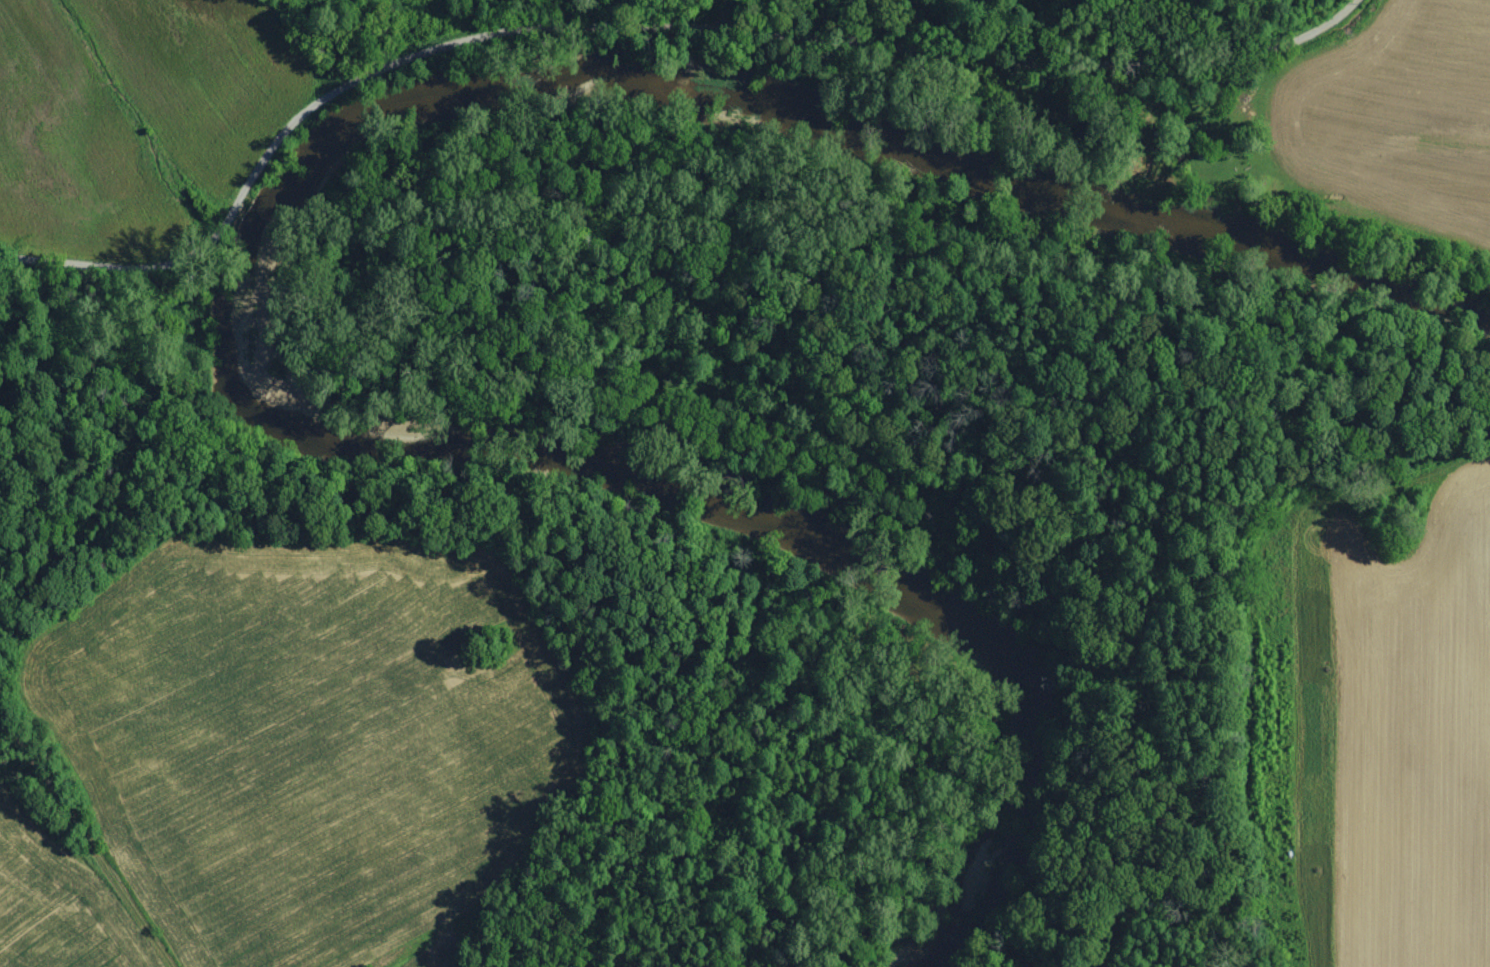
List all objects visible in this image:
road: (725, 37)
road: (84, 263)

